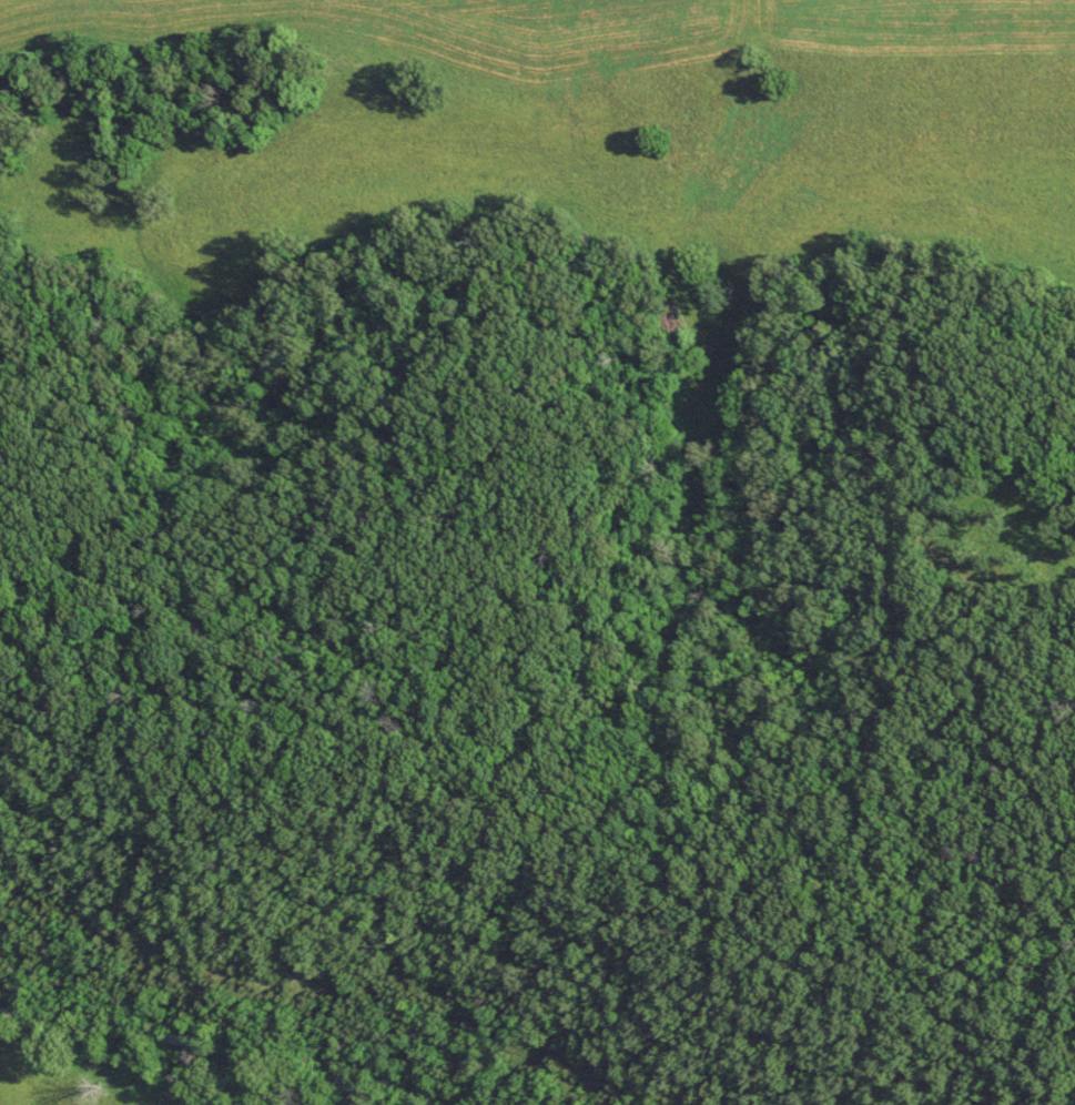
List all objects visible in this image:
road: (219, 1054)

